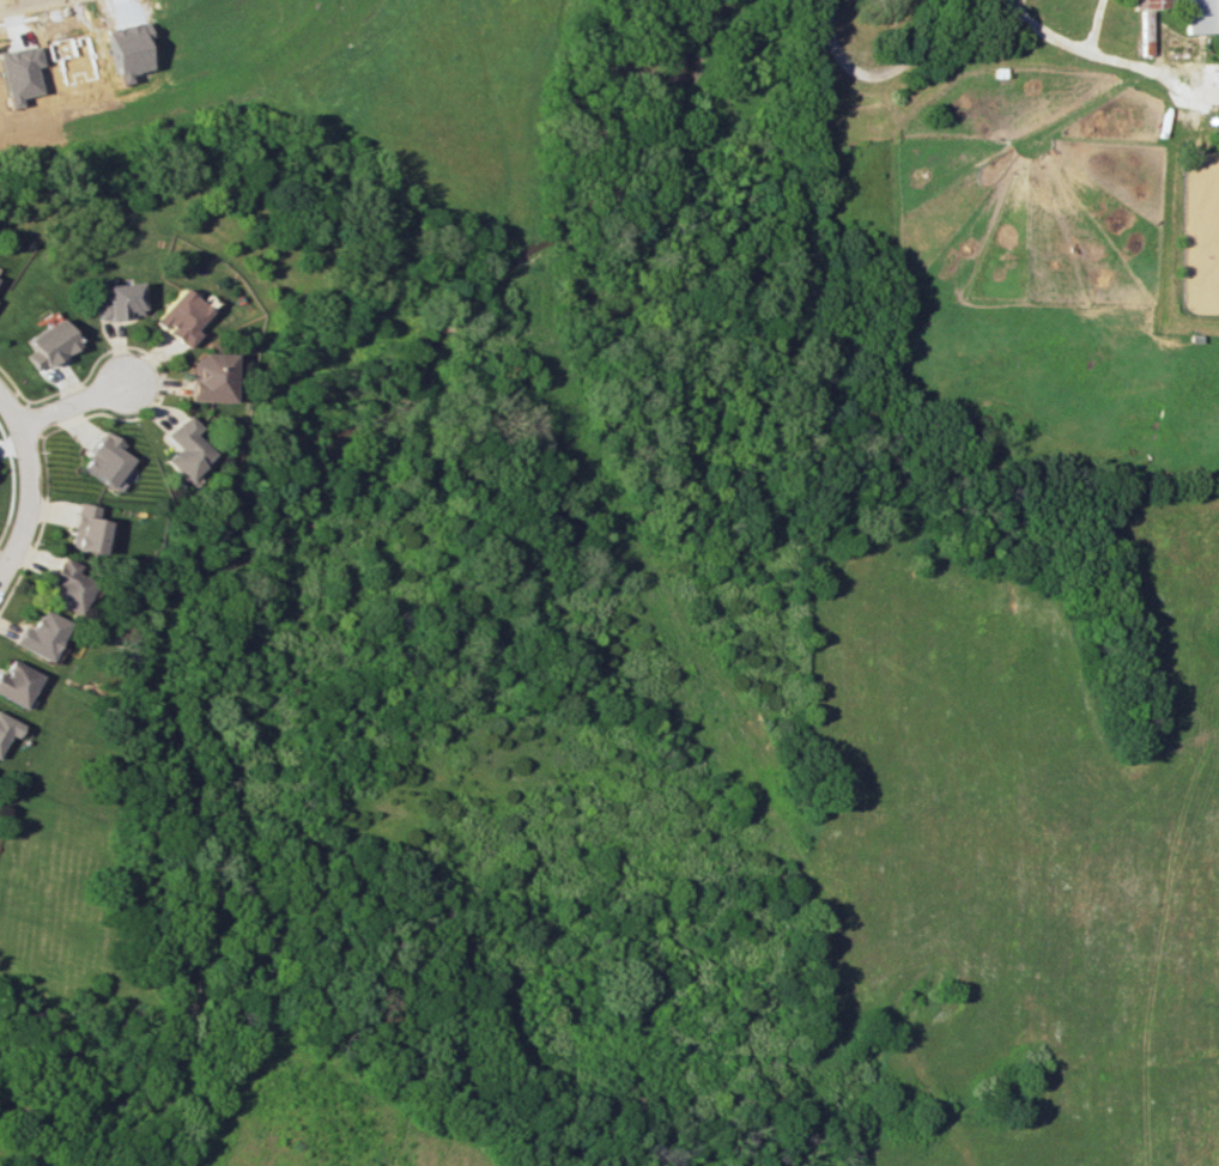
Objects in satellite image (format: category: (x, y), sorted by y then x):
road: (22, 1)
building: (1152, 4)
building: (1201, 16)
road: (1097, 25)
road: (1081, 48)
road: (896, 66)
building: (116, 300)
building: (180, 317)
building: (49, 344)
building: (210, 376)
road: (78, 402)
building: (182, 448)
building: (103, 458)
road: (32, 481)
building: (83, 529)
building: (65, 585)
building: (40, 634)
building: (16, 682)
building: (7, 728)

